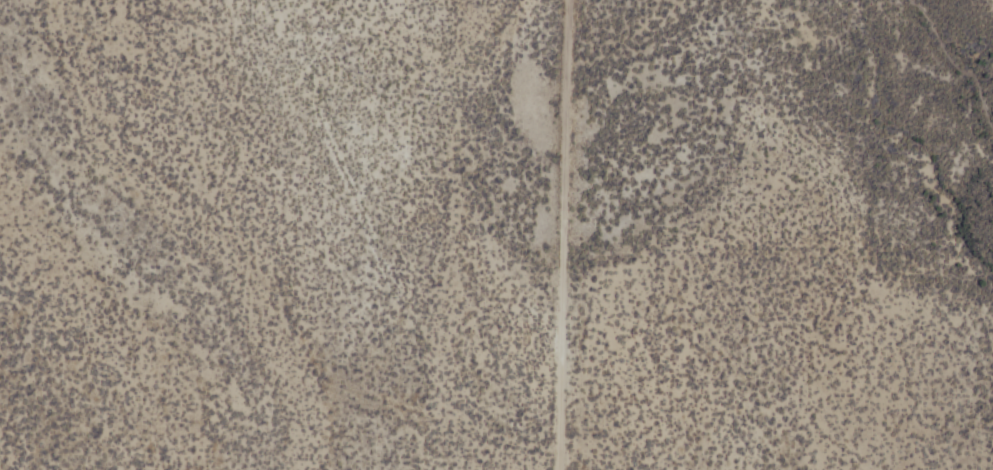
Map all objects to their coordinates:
road: (571, 235)

